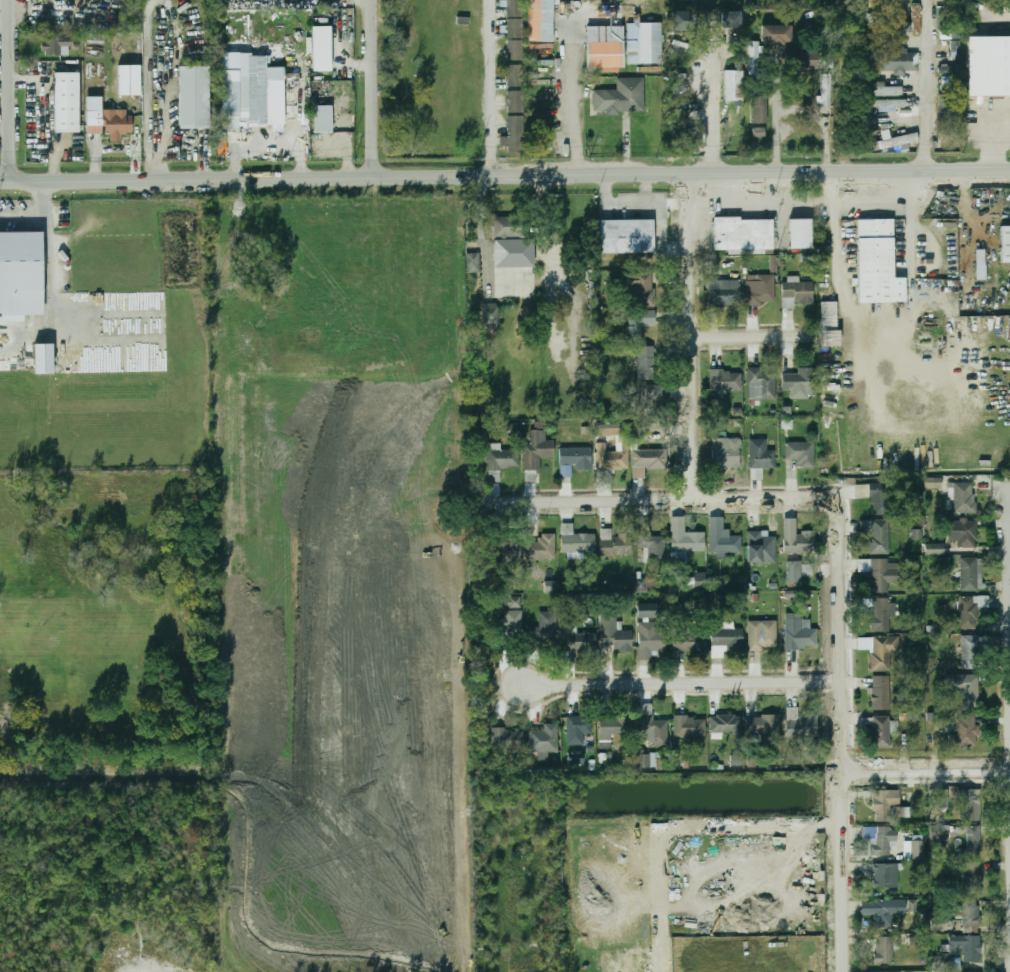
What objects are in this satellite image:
building: (731, 19)
building: (540, 20)
building: (863, 20)
building: (680, 21)
building: (913, 21)
building: (893, 26)
building: (776, 34)
building: (643, 42)
building: (515, 43)
building: (53, 46)
building: (321, 48)
building: (605, 55)
building: (755, 57)
building: (802, 59)
building: (989, 66)
building: (129, 79)
building: (863, 81)
building: (733, 85)
road: (925, 85)
road: (491, 88)
building: (522, 88)
road: (147, 89)
road: (372, 89)
road: (10, 90)
building: (230, 90)
building: (886, 91)
building: (823, 94)
building: (194, 97)
building: (621, 97)
building: (275, 102)
building: (67, 103)
building: (93, 103)
road: (573, 103)
building: (681, 103)
building: (890, 104)
building: (948, 108)
building: (759, 109)
road: (713, 113)
building: (322, 119)
road: (822, 121)
building: (109, 123)
building: (514, 123)
road: (776, 124)
building: (863, 131)
building: (758, 132)
building: (695, 138)
building: (902, 140)
road: (990, 146)
road: (510, 177)
road: (5, 182)
road: (831, 186)
road: (871, 199)
road: (23, 217)
building: (500, 226)
road: (910, 233)
road: (482, 234)
building: (801, 234)
building: (742, 235)
building: (627, 236)
building: (1005, 244)
building: (512, 252)
building: (473, 262)
building: (877, 263)
building: (980, 264)
road: (550, 265)
building: (21, 273)
road: (48, 279)
building: (644, 290)
building: (760, 290)
building: (725, 292)
building: (797, 294)
road: (843, 295)
building: (829, 313)
building: (490, 315)
building: (639, 323)
road: (691, 337)
road: (751, 337)
building: (831, 338)
building: (43, 360)
building: (647, 366)
building: (726, 380)
building: (800, 383)
building: (762, 384)
building: (651, 396)
building: (605, 411)
building: (510, 429)
building: (606, 430)
building: (726, 454)
building: (801, 454)
building: (533, 455)
building: (761, 455)
building: (581, 459)
building: (646, 459)
building: (500, 460)
building: (612, 460)
building: (756, 474)
building: (933, 482)
building: (861, 490)
building: (963, 497)
building: (881, 499)
road: (667, 501)
building: (966, 534)
building: (878, 535)
building: (686, 537)
building: (577, 540)
building: (800, 542)
building: (615, 543)
building: (725, 543)
building: (654, 545)
building: (509, 547)
building: (761, 547)
building: (541, 548)
building: (934, 548)
building: (800, 570)
building: (880, 573)
building: (969, 574)
building: (689, 582)
building: (550, 585)
building: (915, 586)
building: (512, 602)
building: (968, 611)
building: (880, 614)
building: (513, 621)
building: (547, 628)
building: (652, 632)
building: (614, 633)
building: (799, 635)
building: (765, 637)
building: (689, 640)
building: (726, 640)
building: (578, 643)
building: (885, 653)
building: (971, 653)
road: (675, 683)
building: (964, 688)
building: (881, 693)
building: (802, 723)
building: (725, 724)
building: (763, 724)
building: (690, 726)
building: (615, 728)
building: (579, 730)
building: (655, 730)
building: (965, 731)
building: (881, 732)
building: (508, 739)
building: (545, 739)
road: (844, 749)
building: (575, 757)
building: (646, 760)
road: (927, 768)
building: (939, 800)
building: (885, 804)
building: (969, 804)
building: (900, 811)
road: (684, 826)
building: (940, 832)
building: (881, 839)
building: (972, 842)
building: (918, 849)
building: (939, 853)
building: (885, 875)
building: (972, 876)
building: (911, 905)
building: (884, 910)
building: (972, 915)
building: (966, 948)
building: (885, 949)
building: (954, 963)
road: (169, 970)

